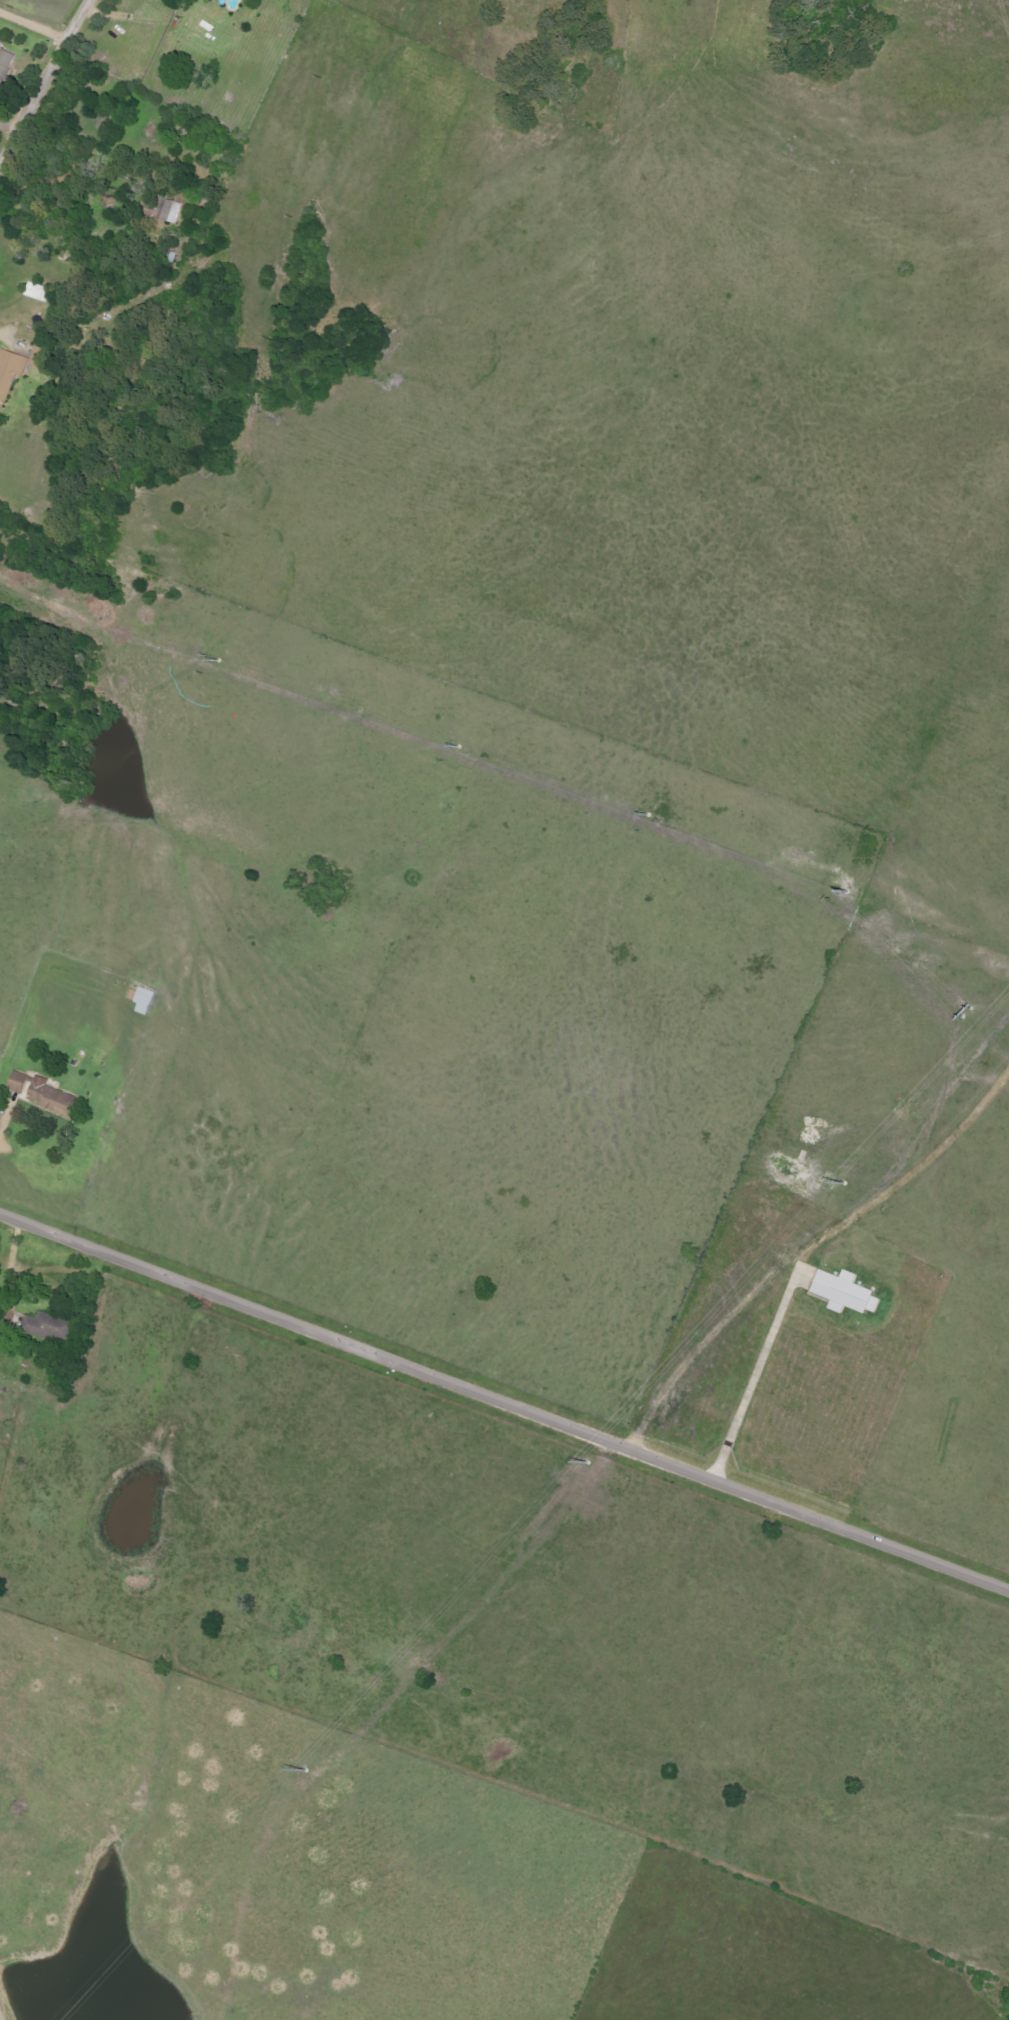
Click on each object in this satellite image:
road: (36, 26)
building: (5, 65)
road: (47, 87)
building: (169, 212)
building: (10, 373)
road: (464, 901)
road: (764, 969)
building: (144, 1001)
building: (18, 1083)
building: (52, 1098)
power tower: (909, 1113)
road: (143, 1131)
road: (10, 1266)
building: (845, 1293)
building: (47, 1328)
road: (753, 1381)
road: (928, 1396)
road: (505, 1402)
power tower: (409, 1657)

